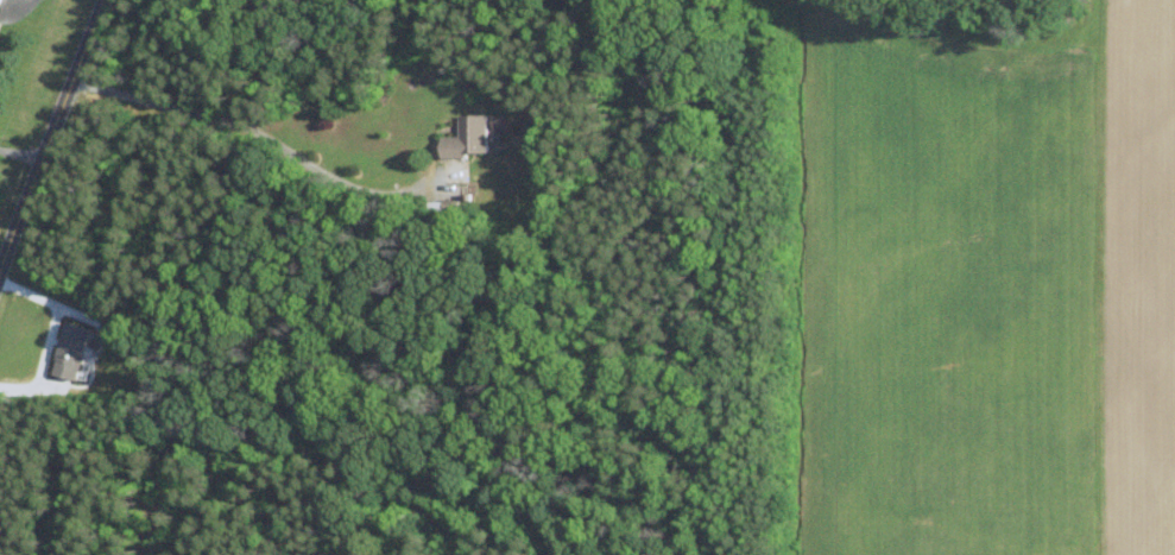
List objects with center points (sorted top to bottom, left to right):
road: (20, 4)
road: (247, 126)
road: (50, 132)
building: (462, 137)
road: (20, 154)
road: (52, 333)
building: (71, 352)

